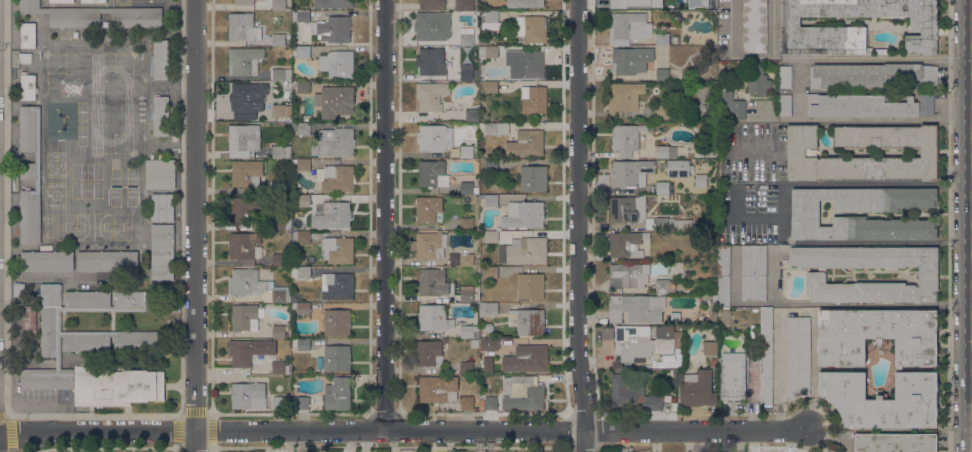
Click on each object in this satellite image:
building: (62, 1)
building: (93, 1)
building: (245, 2)
building: (621, 2)
building: (524, 3)
building: (697, 3)
building: (342, 4)
building: (464, 4)
building: (662, 4)
building: (279, 5)
building: (432, 5)
building: (106, 9)
building: (65, 14)
building: (301, 16)
building: (135, 17)
building: (491, 20)
building: (432, 26)
building: (754, 26)
building: (243, 27)
building: (628, 28)
building: (332, 29)
building: (531, 29)
building: (823, 29)
building: (28, 35)
building: (467, 36)
building: (662, 38)
building: (278, 39)
building: (675, 39)
building: (302, 52)
building: (491, 52)
building: (161, 58)
building: (244, 60)
building: (631, 60)
building: (432, 61)
building: (337, 64)
building: (525, 64)
building: (662, 74)
building: (281, 75)
building: (466, 75)
building: (869, 75)
building: (785, 76)
building: (758, 80)
building: (28, 87)
building: (303, 87)
building: (491, 87)
road: (798, 90)
building: (430, 96)
building: (245, 98)
building: (623, 98)
building: (533, 99)
building: (335, 101)
building: (785, 105)
building: (732, 106)
building: (867, 106)
building: (278, 111)
building: (662, 111)
building: (472, 115)
building: (161, 116)
building: (301, 128)
building: (496, 128)
building: (431, 137)
building: (175, 138)
building: (626, 139)
building: (243, 140)
building: (335, 142)
building: (526, 143)
building: (281, 151)
building: (466, 152)
building: (666, 152)
building: (801, 152)
parking lot: (752, 153)
building: (698, 156)
building: (303, 164)
building: (491, 164)
building: (678, 168)
building: (160, 173)
building: (246, 173)
building: (433, 173)
building: (631, 173)
building: (30, 174)
building: (336, 178)
building: (533, 178)
building: (701, 180)
road: (954, 184)
building: (279, 185)
building: (663, 187)
building: (467, 188)
building: (489, 199)
building: (303, 200)
building: (161, 207)
building: (427, 208)
building: (627, 209)
building: (245, 210)
road: (384, 214)
road: (785, 214)
building: (805, 214)
building: (335, 215)
building: (524, 215)
building: (282, 223)
building: (466, 224)
building: (667, 224)
road: (579, 225)
road: (194, 226)
building: (303, 236)
building: (491, 236)
road: (954, 242)
building: (626, 244)
building: (431, 245)
building: (245, 247)
building: (338, 249)
building: (527, 250)
building: (162, 251)
building: (47, 260)
building: (278, 260)
building: (467, 260)
building: (107, 261)
building: (477, 262)
building: (301, 272)
building: (491, 272)
building: (754, 273)
building: (628, 275)
building: (724, 276)
building: (816, 277)
building: (433, 282)
building: (257, 286)
building: (337, 286)
building: (530, 286)
building: (664, 286)
building: (19, 290)
building: (467, 295)
building: (714, 298)
road: (353, 305)
building: (302, 308)
building: (489, 308)
building: (636, 308)
building: (725, 316)
building: (244, 317)
building: (434, 318)
building: (674, 318)
building: (527, 321)
building: (337, 322)
building: (488, 327)
building: (278, 331)
building: (469, 332)
building: (645, 341)
building: (301, 344)
building: (489, 344)
building: (94, 347)
building: (709, 348)
building: (249, 351)
building: (429, 353)
building: (766, 357)
building: (797, 357)
building: (337, 358)
building: (527, 359)
building: (488, 364)
building: (278, 367)
building: (467, 367)
building: (898, 369)
building: (674, 372)
building: (733, 380)
building: (437, 388)
building: (697, 389)
building: (522, 393)
building: (338, 394)
building: (248, 395)
building: (633, 396)
building: (490, 401)
building: (279, 402)
building: (300, 403)
building: (467, 403)
building: (482, 405)
road: (403, 429)
building: (895, 442)
building: (834, 450)
building: (633, 451)

